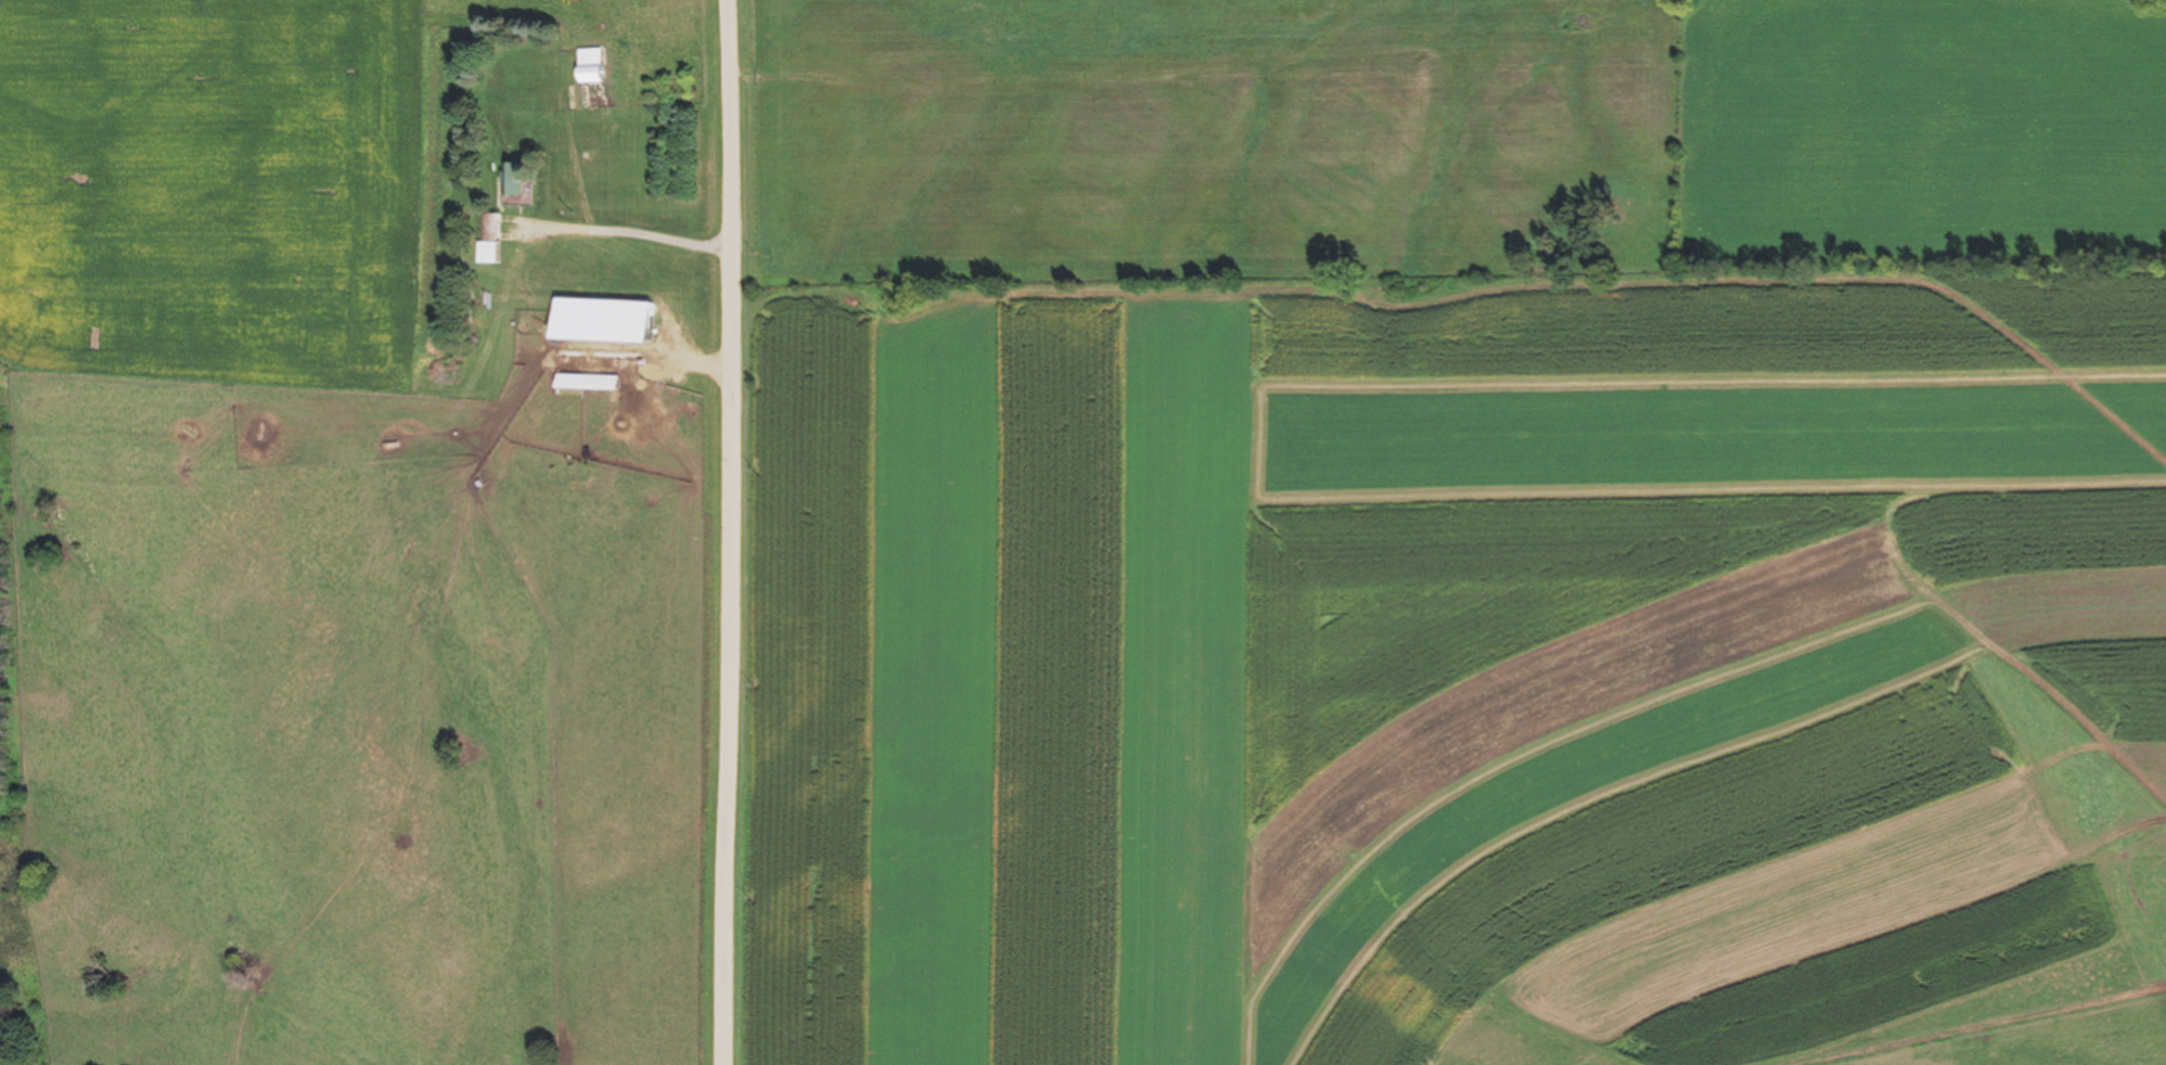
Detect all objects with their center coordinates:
building: (595, 66)
building: (516, 181)
building: (636, 287)
building: (589, 326)
building: (652, 335)
road: (734, 532)

